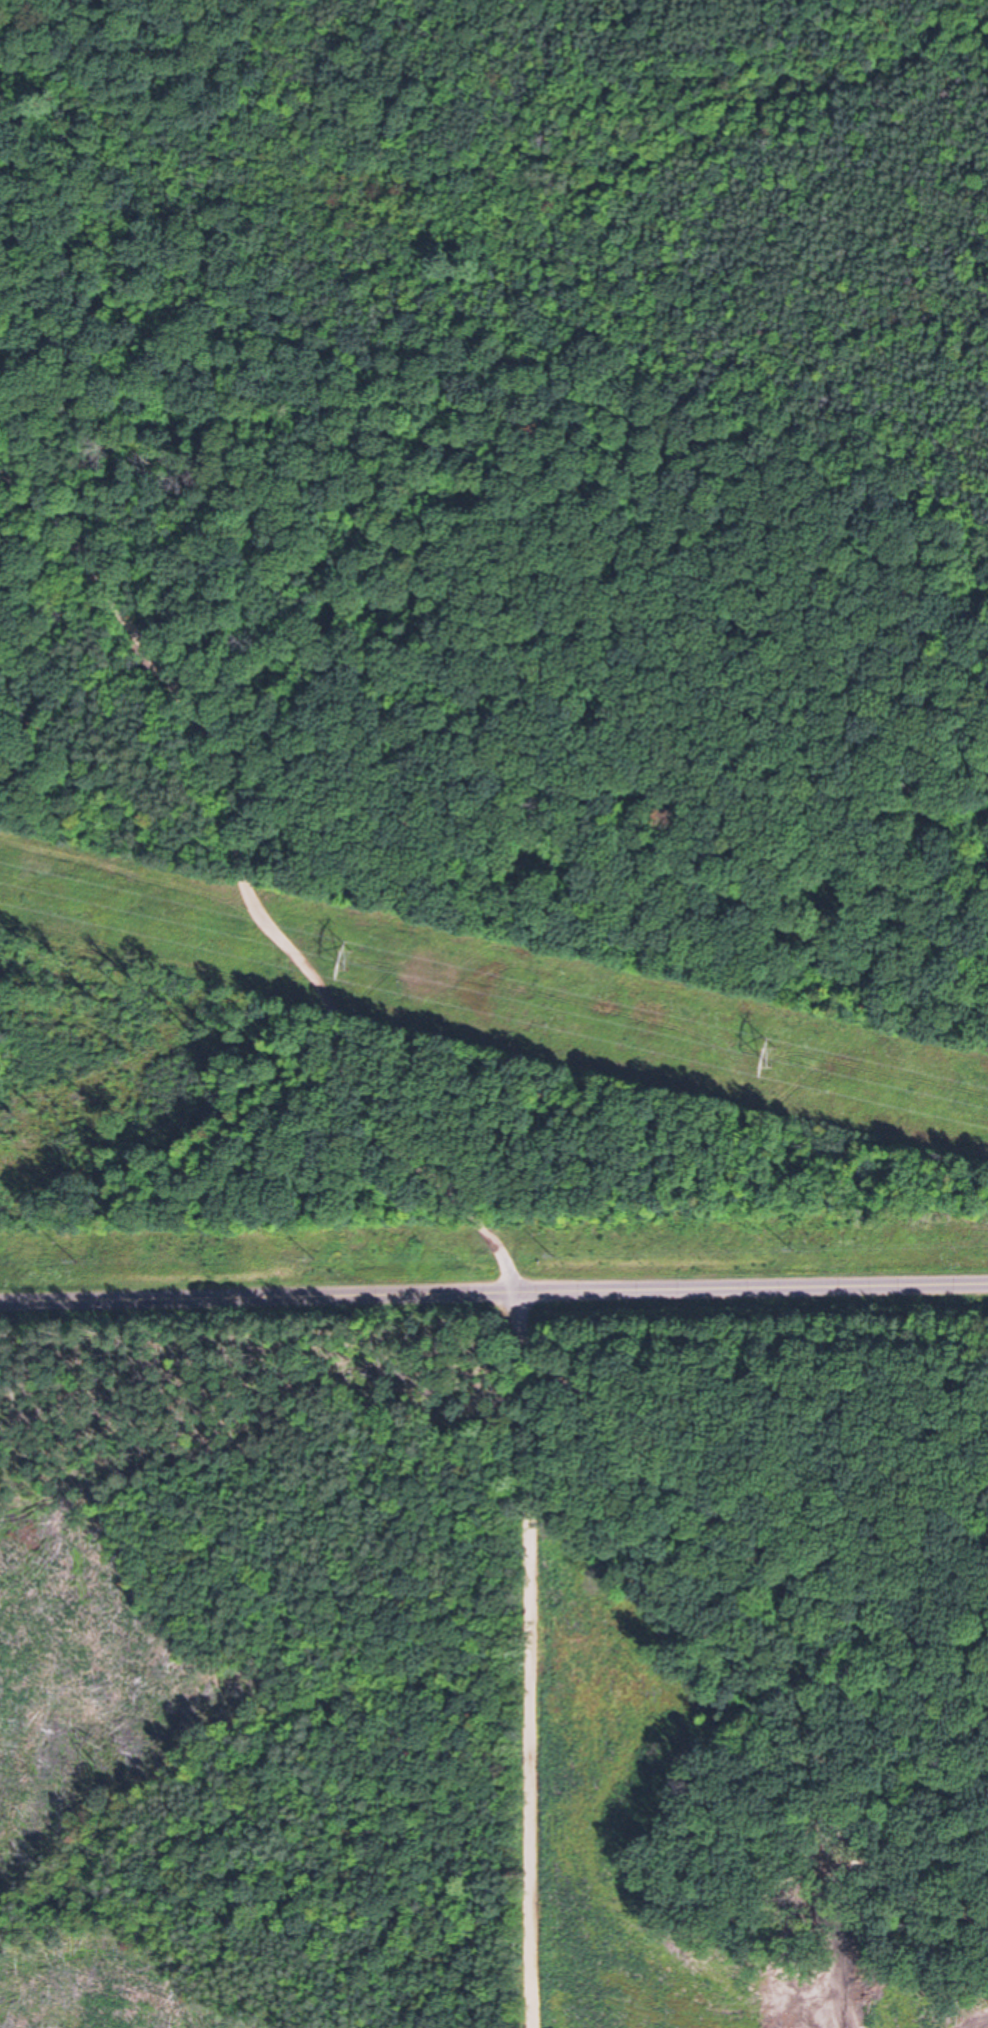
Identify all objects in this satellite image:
power tower: (352, 962)
power tower: (780, 1059)
road: (494, 1296)

